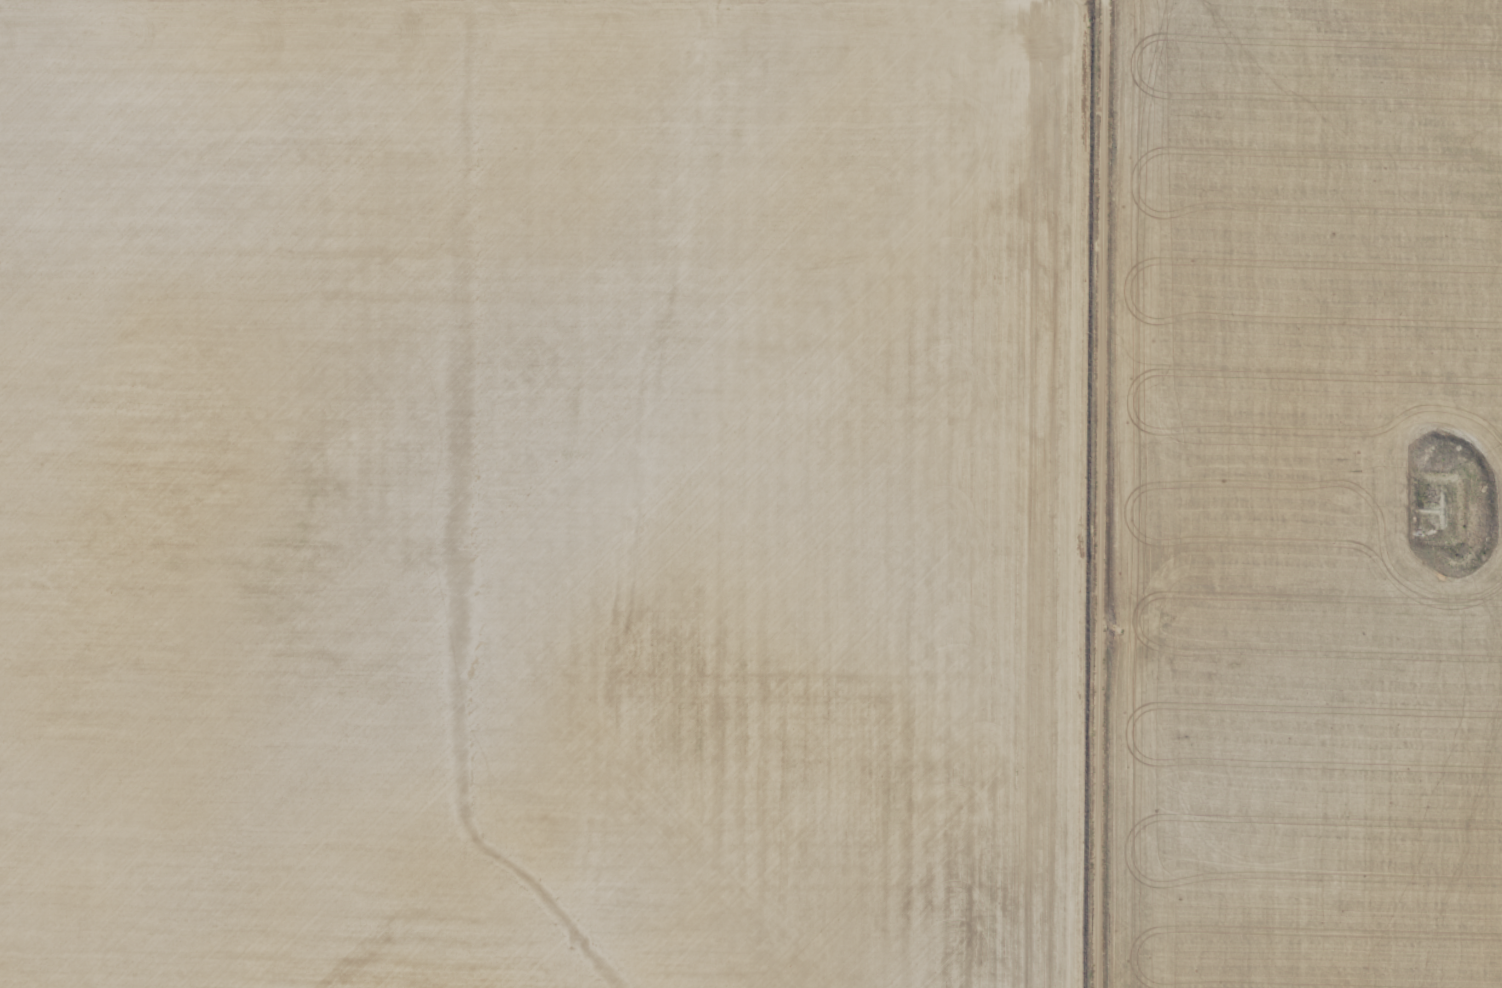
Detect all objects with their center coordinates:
road: (1104, 493)

